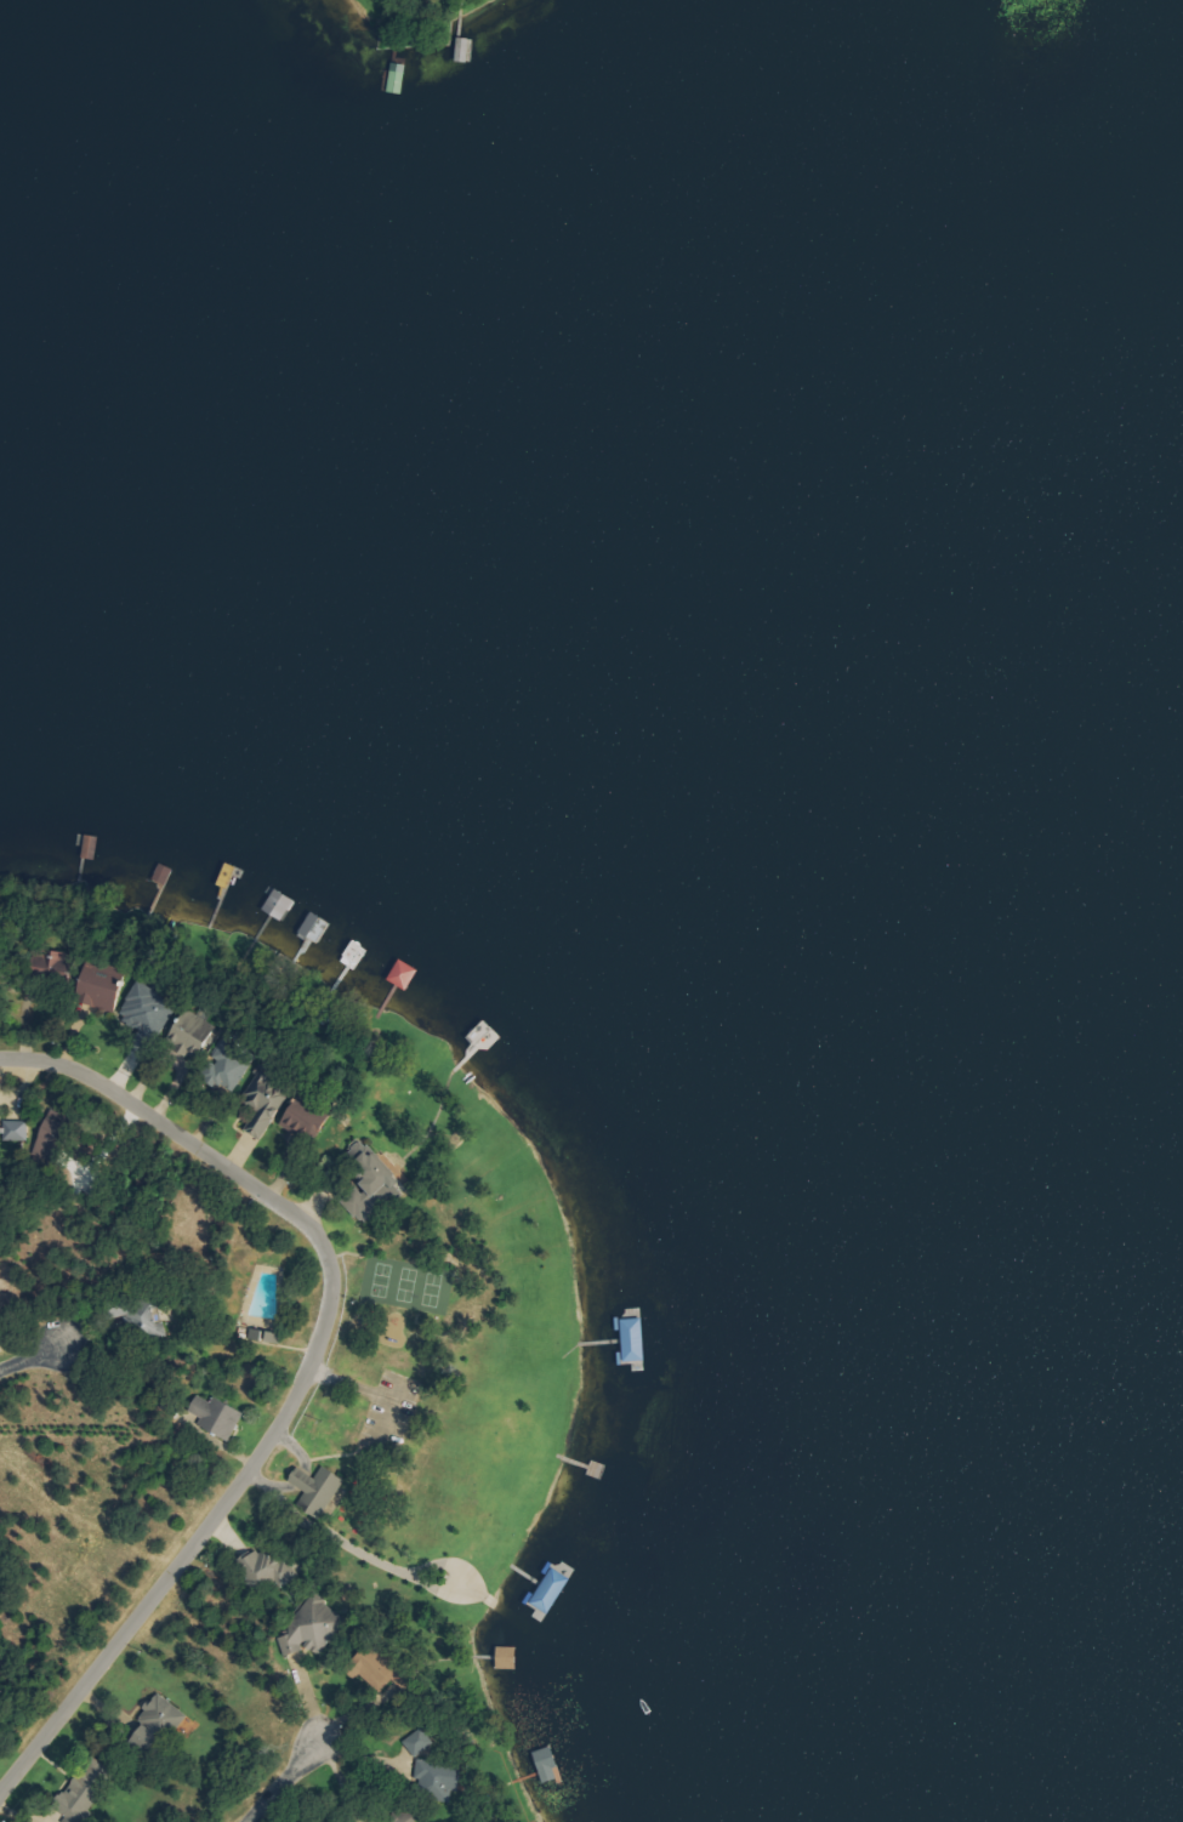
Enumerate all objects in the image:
building: (319, 922)
building: (408, 973)
building: (104, 989)
building: (150, 1008)
building: (198, 1030)
building: (233, 1061)
building: (268, 1104)
building: (309, 1120)
building: (18, 1129)
building: (55, 1143)
building: (374, 1185)
building: (267, 1334)
building: (636, 1340)
road: (35, 1356)
road: (303, 1373)
building: (220, 1416)
building: (319, 1488)
building: (267, 1566)
building: (551, 1593)
building: (308, 1638)
building: (510, 1657)
building: (164, 1720)
building: (420, 1742)
building: (550, 1764)
building: (442, 1777)
road: (283, 1780)
building: (80, 1797)

